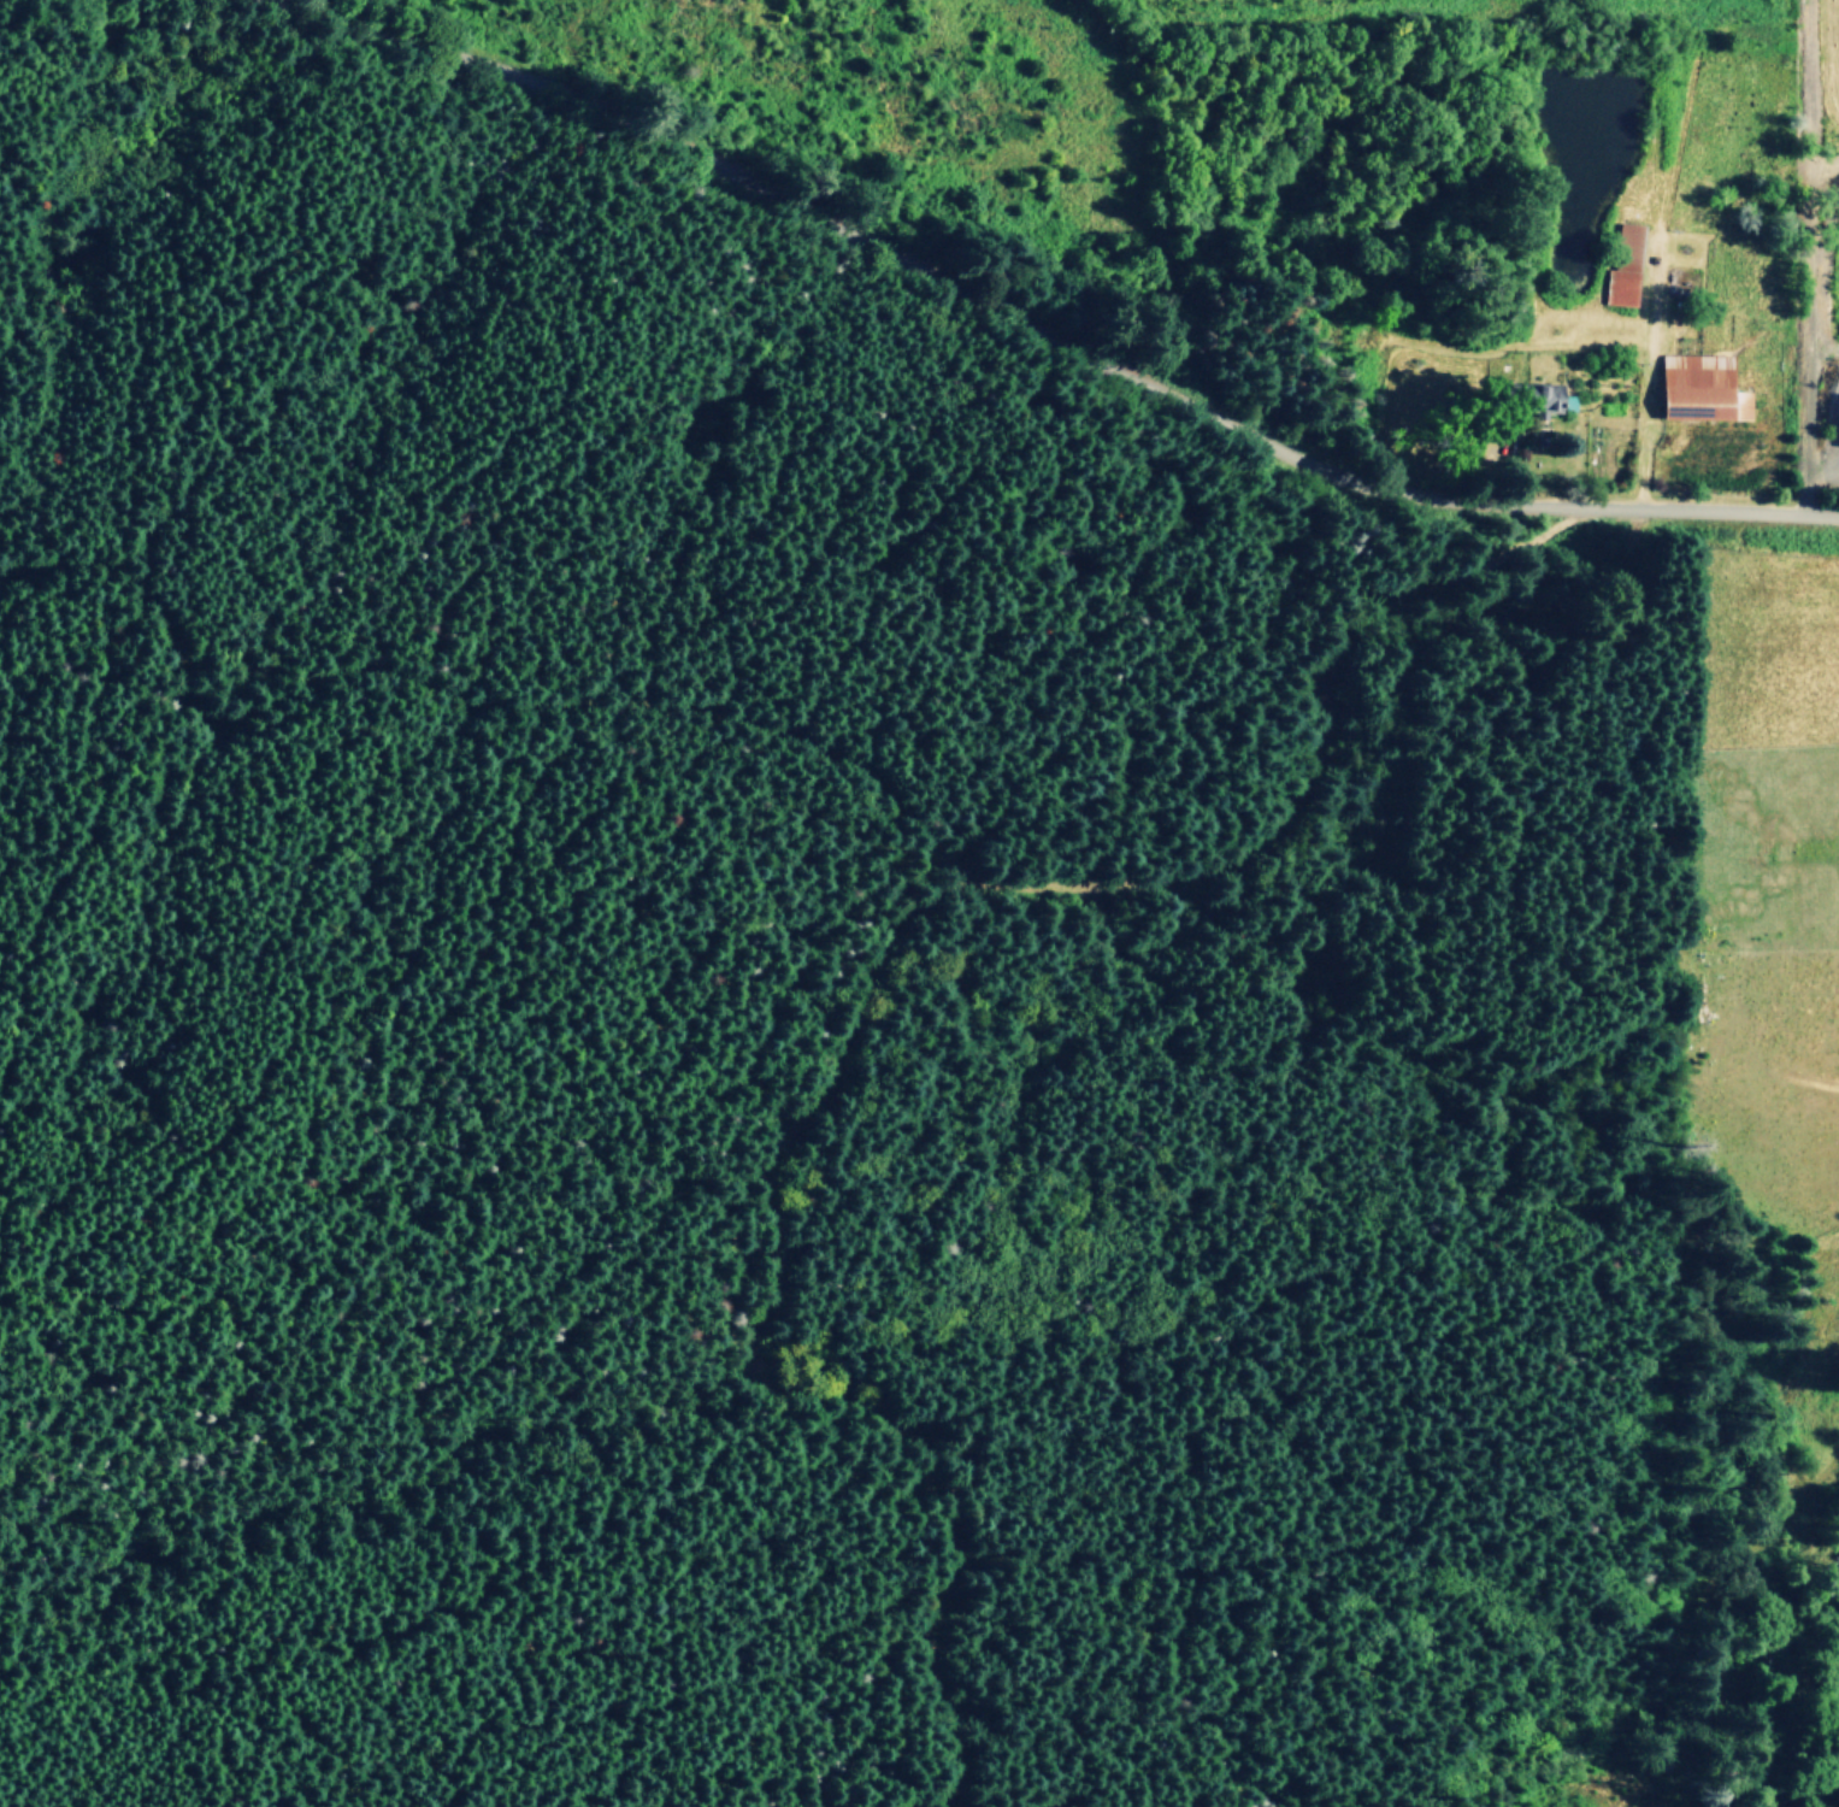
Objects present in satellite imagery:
building: (1625, 266)
road: (1038, 328)
building: (1702, 388)
road: (924, 953)

